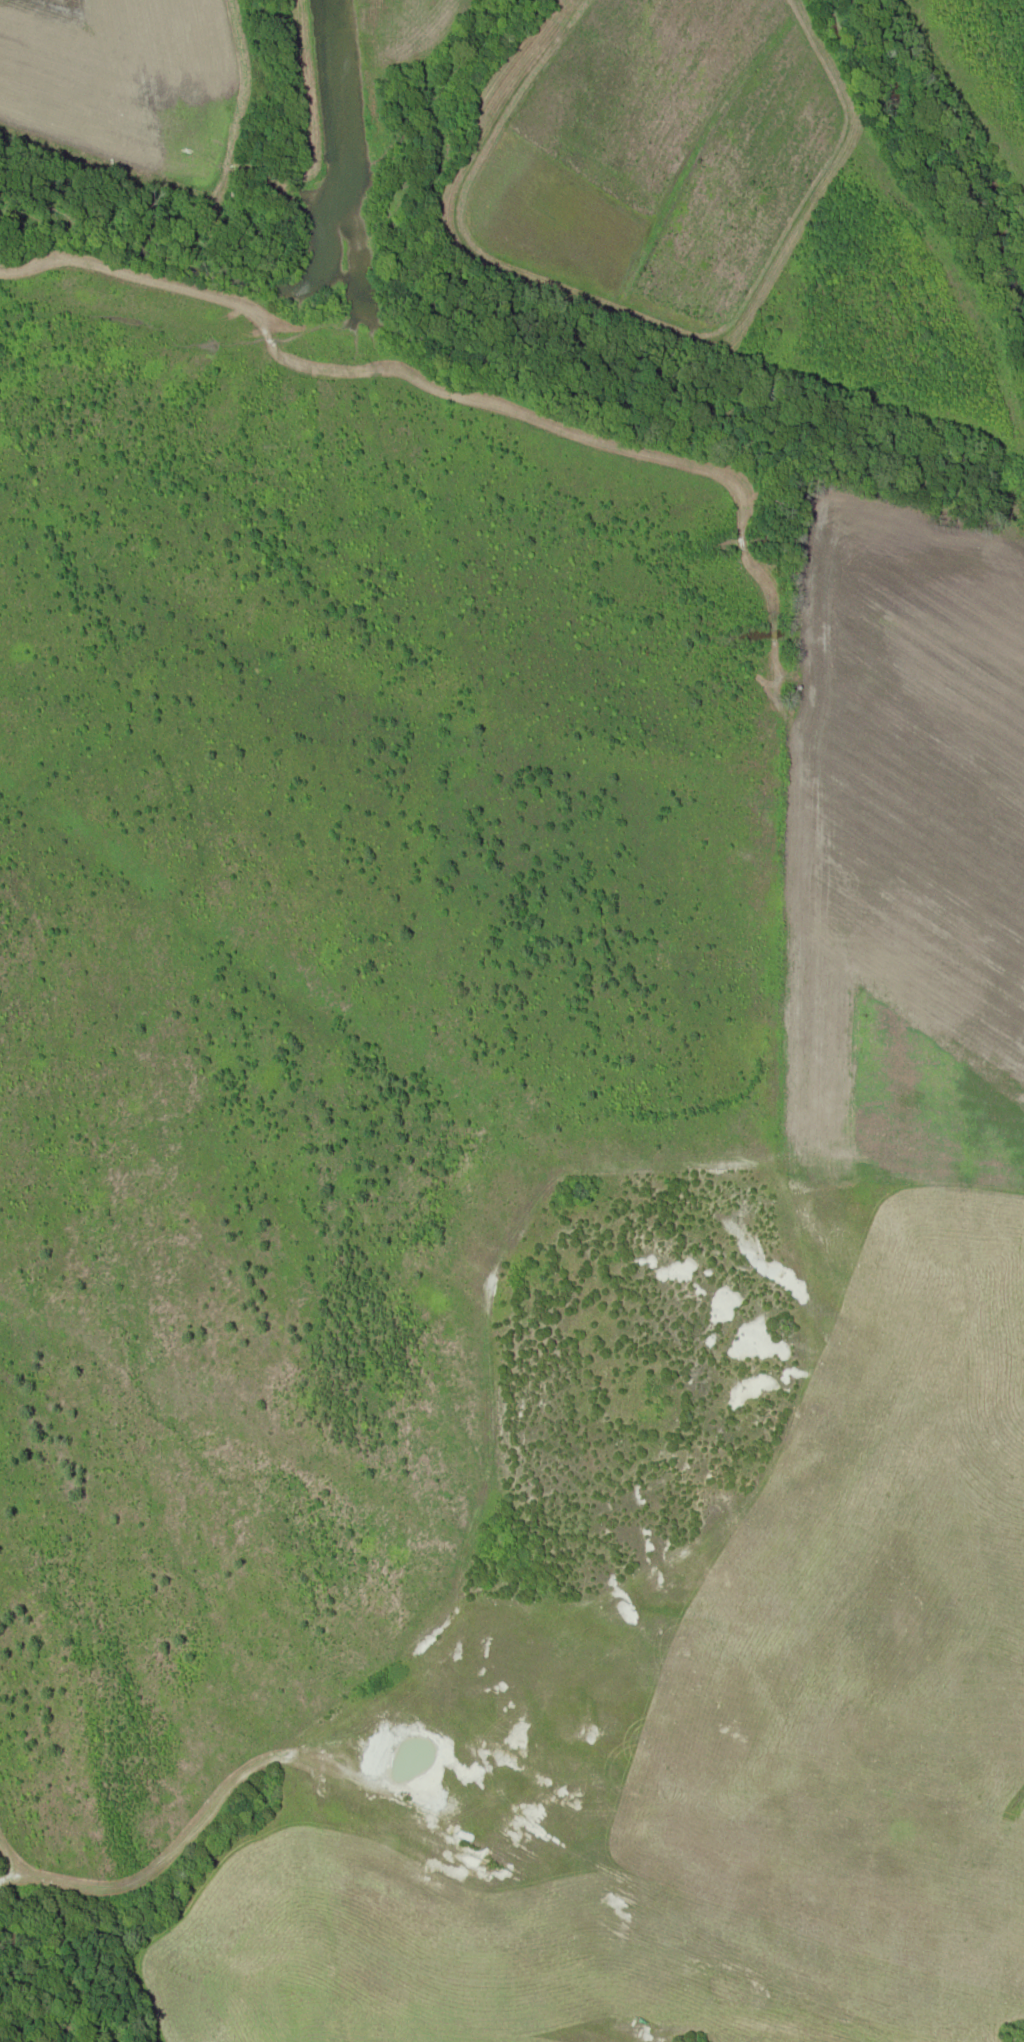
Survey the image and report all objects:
road: (966, 2037)

